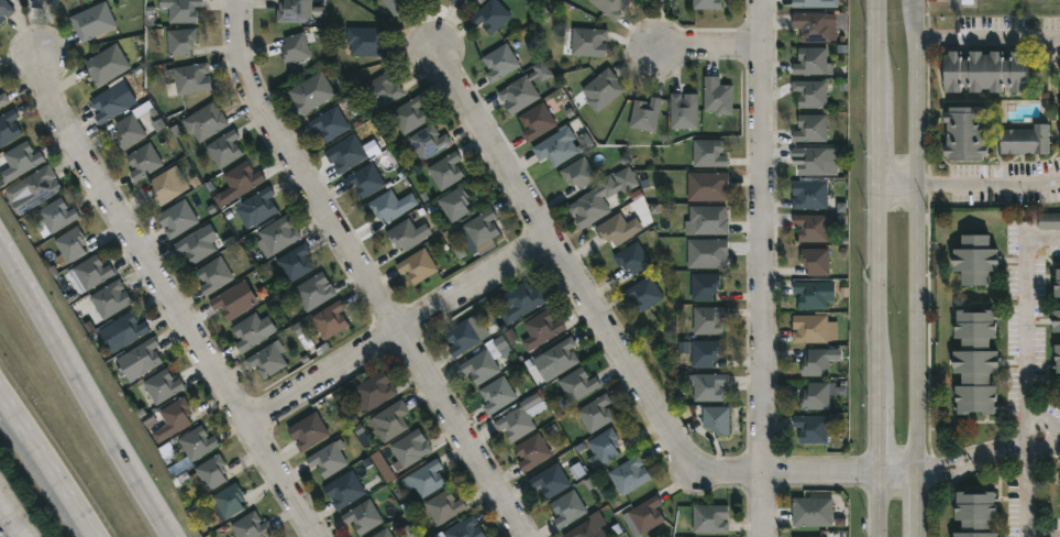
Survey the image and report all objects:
building: (52, 2)
building: (454, 2)
building: (35, 3)
building: (814, 3)
road: (953, 3)
building: (707, 4)
building: (395, 6)
building: (611, 7)
building: (4, 9)
building: (181, 10)
building: (289, 11)
building: (490, 15)
building: (92, 21)
building: (813, 25)
building: (365, 41)
building: (588, 41)
building: (180, 42)
road: (989, 43)
road: (707, 45)
building: (295, 48)
building: (811, 61)
building: (499, 62)
building: (106, 64)
building: (986, 72)
building: (192, 78)
building: (523, 89)
building: (601, 89)
building: (380, 90)
building: (310, 92)
building: (810, 92)
building: (718, 96)
building: (2, 99)
building: (112, 101)
building: (684, 111)
building: (409, 114)
building: (645, 114)
building: (537, 121)
building: (203, 122)
building: (329, 123)
building: (132, 125)
building: (8, 127)
building: (810, 129)
building: (965, 134)
building: (1026, 140)
building: (429, 141)
building: (556, 146)
building: (224, 149)
building: (346, 153)
building: (709, 154)
building: (19, 161)
building: (142, 161)
building: (810, 161)
building: (445, 171)
building: (578, 173)
building: (242, 178)
building: (365, 179)
building: (708, 187)
building: (33, 188)
building: (163, 188)
road: (971, 191)
building: (809, 195)
building: (601, 197)
building: (454, 204)
building: (258, 206)
building: (385, 207)
building: (55, 216)
building: (176, 219)
building: (707, 221)
building: (1049, 222)
building: (481, 228)
building: (813, 228)
building: (618, 229)
building: (404, 234)
building: (277, 235)
building: (198, 244)
building: (68, 246)
building: (707, 253)
building: (631, 257)
building: (975, 260)
building: (815, 261)
building: (295, 263)
road: (11, 266)
building: (417, 266)
road: (762, 267)
road: (883, 267)
road: (921, 267)
building: (91, 272)
road: (365, 273)
building: (214, 275)
building: (1058, 284)
building: (704, 286)
building: (313, 292)
building: (643, 293)
building: (811, 295)
road: (176, 297)
building: (107, 300)
building: (230, 303)
building: (520, 303)
building: (330, 320)
building: (708, 320)
building: (1057, 321)
road: (398, 328)
building: (126, 329)
building: (814, 329)
building: (541, 330)
building: (251, 331)
building: (464, 337)
road: (608, 344)
building: (705, 352)
building: (143, 355)
building: (561, 355)
building: (1058, 359)
building: (266, 360)
building: (816, 363)
building: (975, 364)
building: (479, 366)
building: (578, 383)
building: (161, 384)
building: (708, 385)
road: (1031, 385)
building: (374, 390)
building: (496, 394)
building: (817, 395)
road: (96, 412)
building: (596, 412)
building: (173, 418)
building: (717, 418)
building: (390, 419)
building: (515, 423)
building: (811, 428)
building: (308, 430)
building: (605, 443)
building: (410, 447)
building: (191, 448)
building: (532, 451)
building: (328, 457)
road: (52, 462)
road: (958, 467)
building: (211, 470)
building: (629, 474)
building: (423, 479)
building: (551, 480)
building: (344, 489)
building: (228, 498)
building: (444, 505)
building: (567, 507)
building: (813, 512)
building: (975, 512)
building: (647, 514)
building: (363, 515)
building: (710, 518)
road: (1029, 518)
building: (251, 525)
road: (4, 529)
building: (463, 529)
building: (586, 529)
building: (383, 533)
building: (805, 536)

